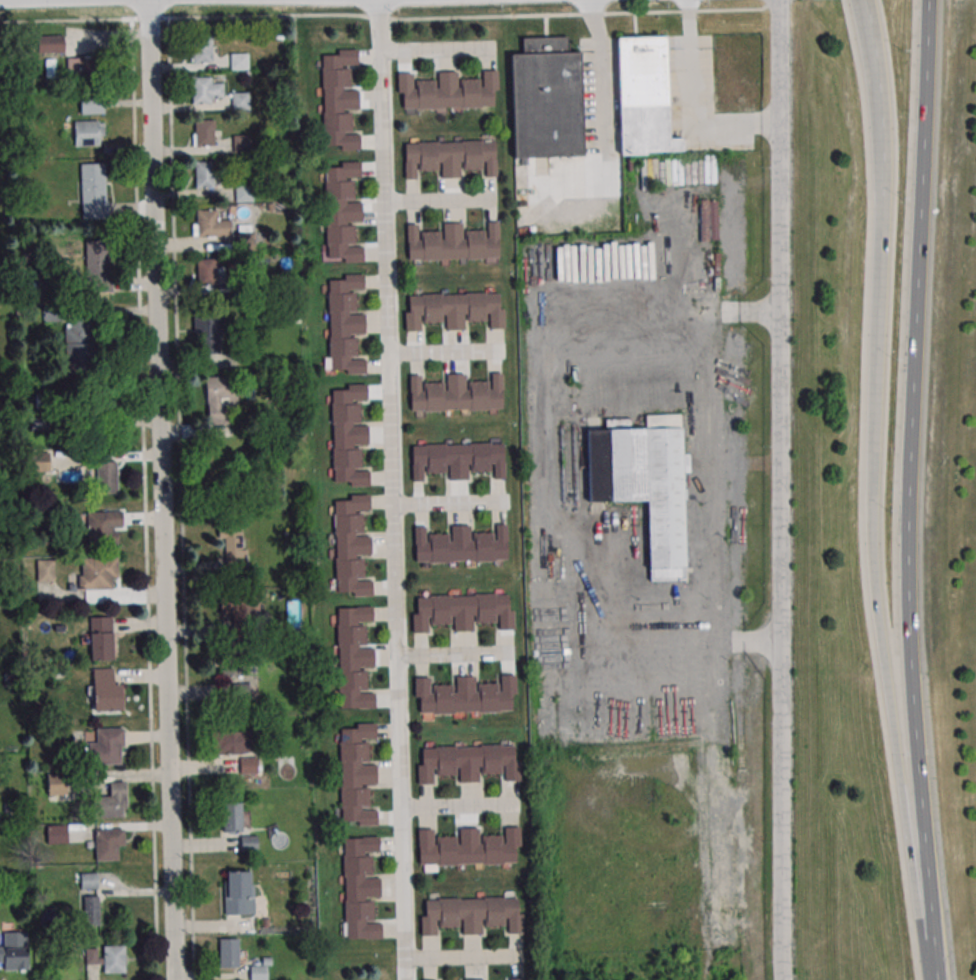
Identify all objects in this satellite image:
road: (383, 17)
building: (50, 44)
road: (435, 48)
building: (204, 50)
building: (238, 61)
building: (79, 67)
building: (206, 90)
building: (446, 91)
building: (643, 97)
building: (339, 99)
road: (880, 99)
building: (239, 100)
building: (546, 100)
building: (91, 104)
road: (692, 108)
building: (203, 132)
building: (89, 133)
building: (241, 143)
building: (449, 157)
building: (205, 174)
building: (94, 190)
building: (243, 193)
road: (436, 201)
building: (342, 212)
building: (211, 224)
building: (451, 242)
building: (206, 270)
building: (100, 280)
building: (454, 310)
building: (344, 324)
building: (208, 326)
building: (79, 343)
road: (445, 352)
building: (455, 393)
building: (220, 400)
building: (348, 435)
road: (912, 440)
building: (457, 459)
building: (39, 461)
road: (708, 476)
building: (106, 477)
building: (645, 484)
road: (389, 489)
road: (778, 489)
road: (160, 490)
road: (446, 504)
building: (103, 527)
road: (873, 542)
building: (351, 545)
building: (460, 545)
building: (234, 547)
building: (45, 569)
building: (91, 574)
building: (239, 610)
building: (462, 611)
building: (101, 638)
road: (454, 654)
building: (354, 658)
building: (232, 665)
building: (105, 691)
building: (464, 695)
building: (236, 696)
building: (232, 741)
building: (107, 746)
building: (467, 762)
building: (357, 775)
building: (56, 784)
building: (112, 801)
road: (458, 806)
building: (231, 817)
building: (56, 834)
building: (249, 843)
building: (108, 845)
building: (468, 848)
building: (360, 887)
building: (238, 892)
building: (90, 910)
building: (470, 914)
road: (930, 930)
building: (13, 947)
building: (228, 952)
building: (107, 957)
road: (462, 957)
building: (473, 979)
building: (515, 979)

